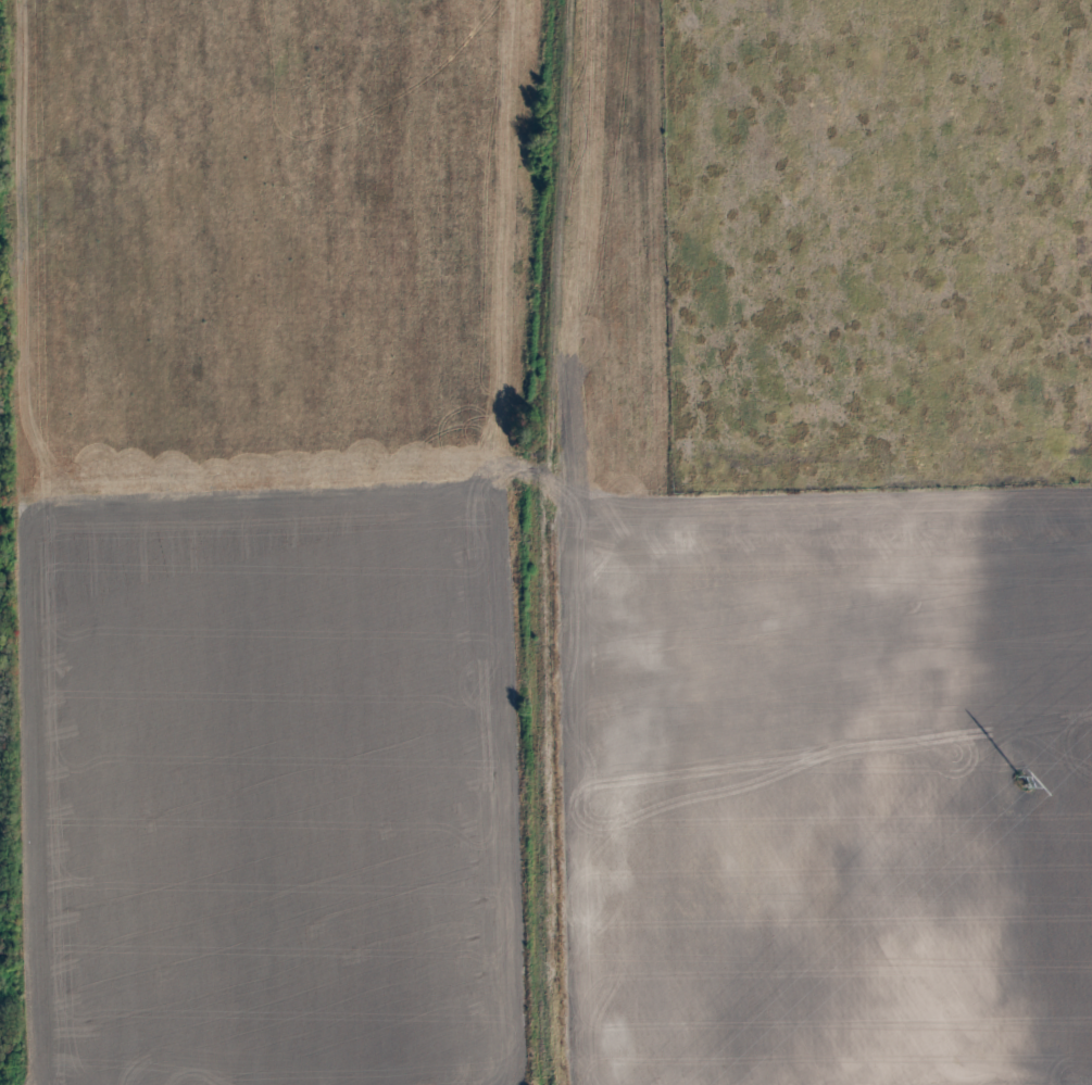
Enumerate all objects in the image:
power tower: (1025, 780)

